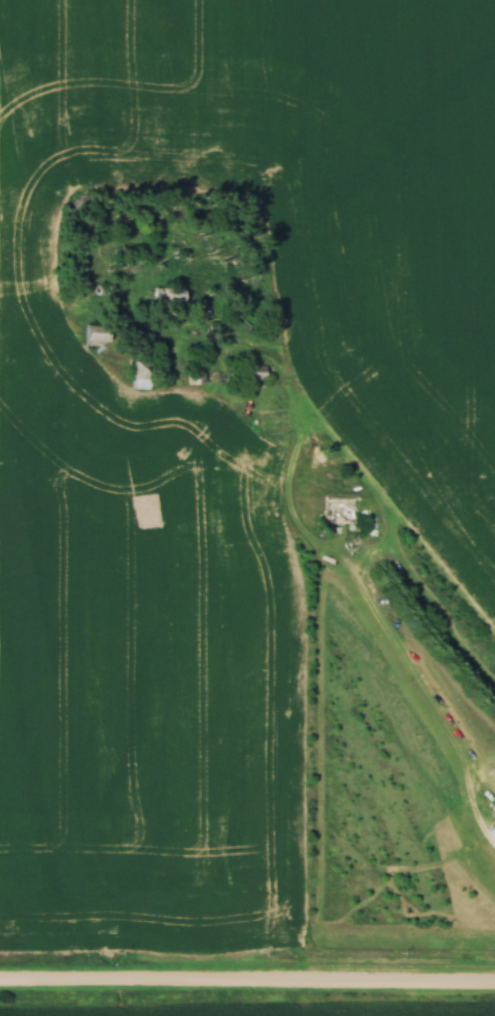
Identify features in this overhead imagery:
road: (247, 982)

